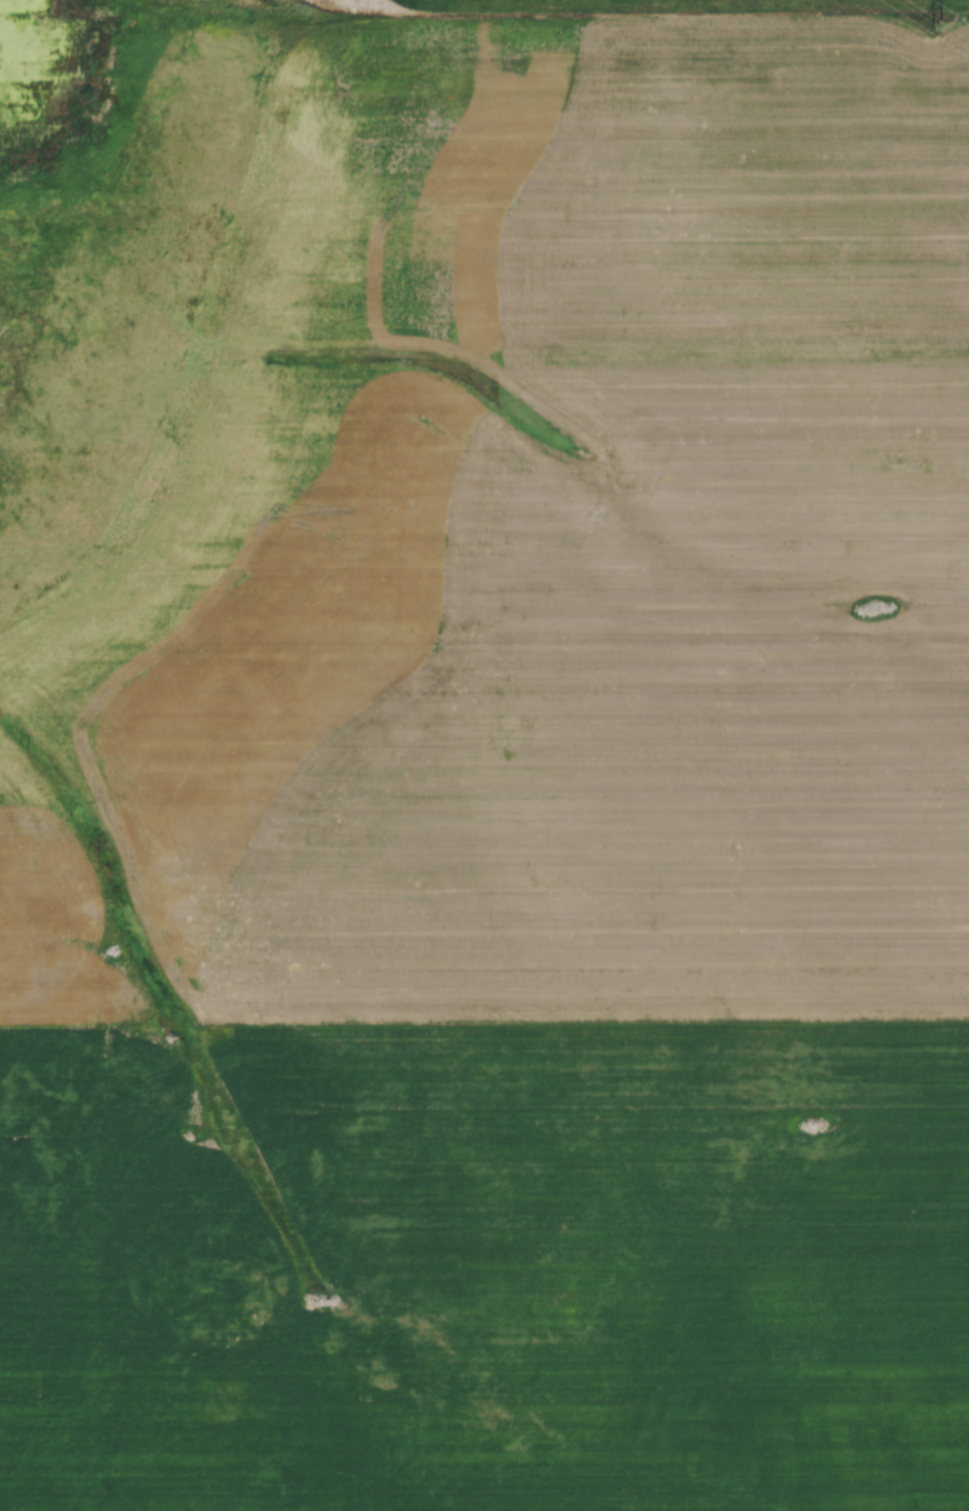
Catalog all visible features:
power tower: (936, 29)

